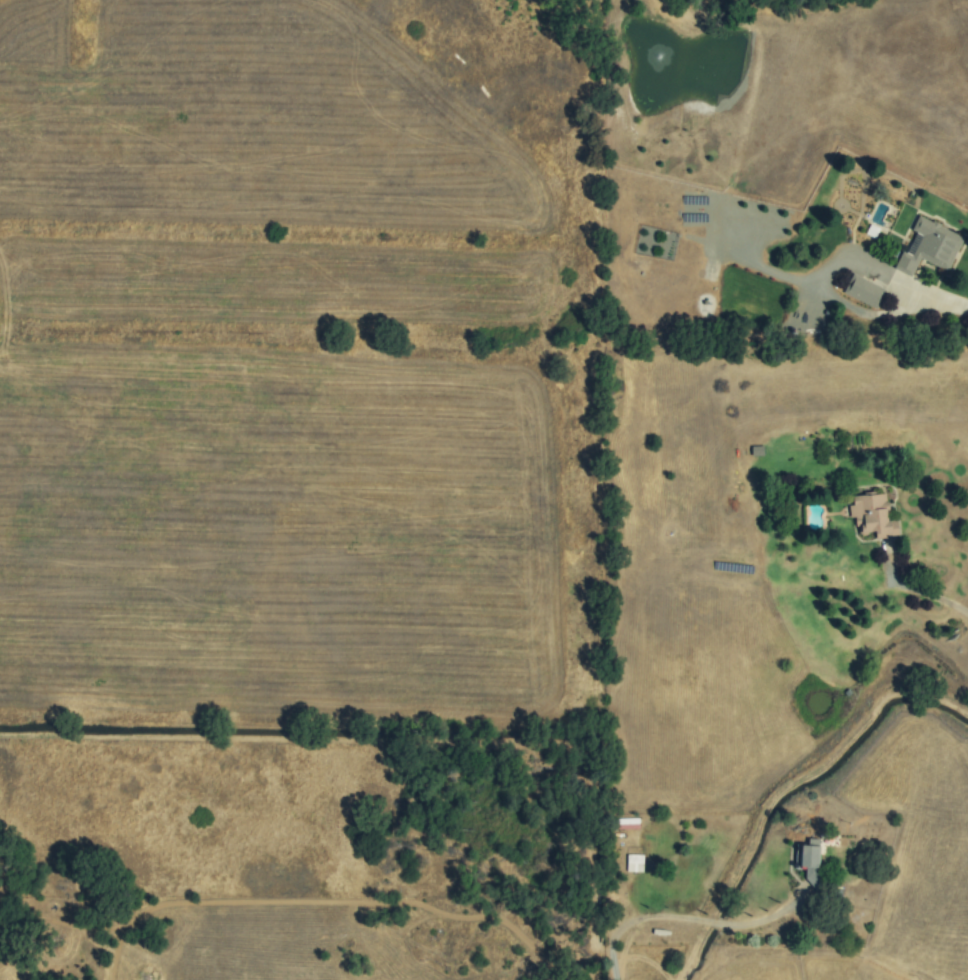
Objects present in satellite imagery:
building: (929, 247)
building: (863, 291)
road: (940, 301)
building: (872, 515)
road: (922, 593)
building: (810, 863)
road: (688, 920)

